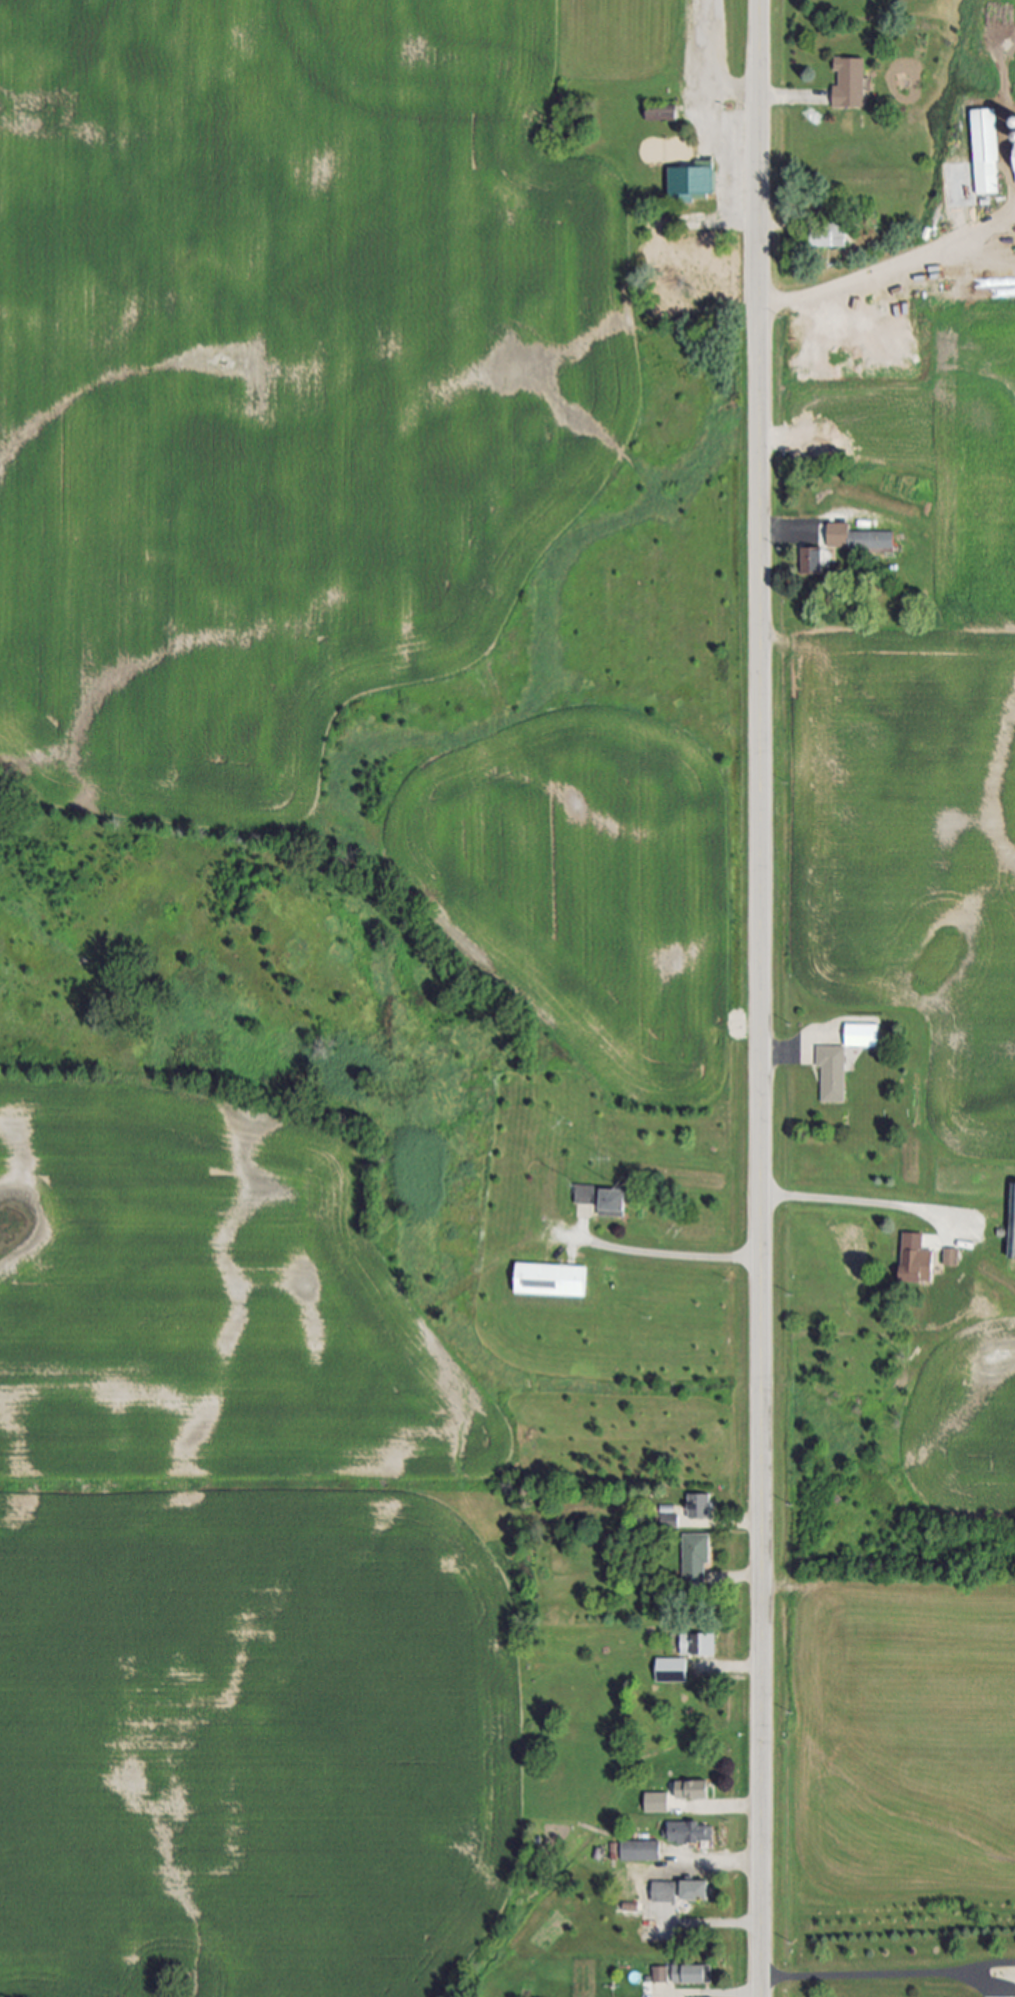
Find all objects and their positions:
building: (850, 84)
road: (789, 99)
building: (661, 116)
building: (1014, 123)
building: (987, 178)
building: (699, 179)
building: (829, 236)
building: (1012, 252)
road: (890, 267)
crop: (281, 377)
road: (784, 532)
building: (842, 546)
crop: (596, 893)
road: (761, 998)
building: (862, 1035)
road: (784, 1052)
building: (832, 1075)
road: (858, 1202)
building: (601, 1203)
building: (1012, 1227)
road: (655, 1255)
building: (913, 1258)
building: (950, 1258)
building: (550, 1280)
building: (699, 1508)
building: (695, 1565)
crop: (235, 1572)
road: (739, 1579)
building: (702, 1648)
road: (735, 1669)
building: (671, 1672)
building: (693, 1792)
building: (659, 1803)
road: (739, 1808)
building: (689, 1835)
building: (640, 1852)
building: (667, 1893)
building: (695, 1893)
road: (669, 1898)
building: (660, 1976)
building: (690, 1976)
road: (868, 1976)
road: (720, 1995)

